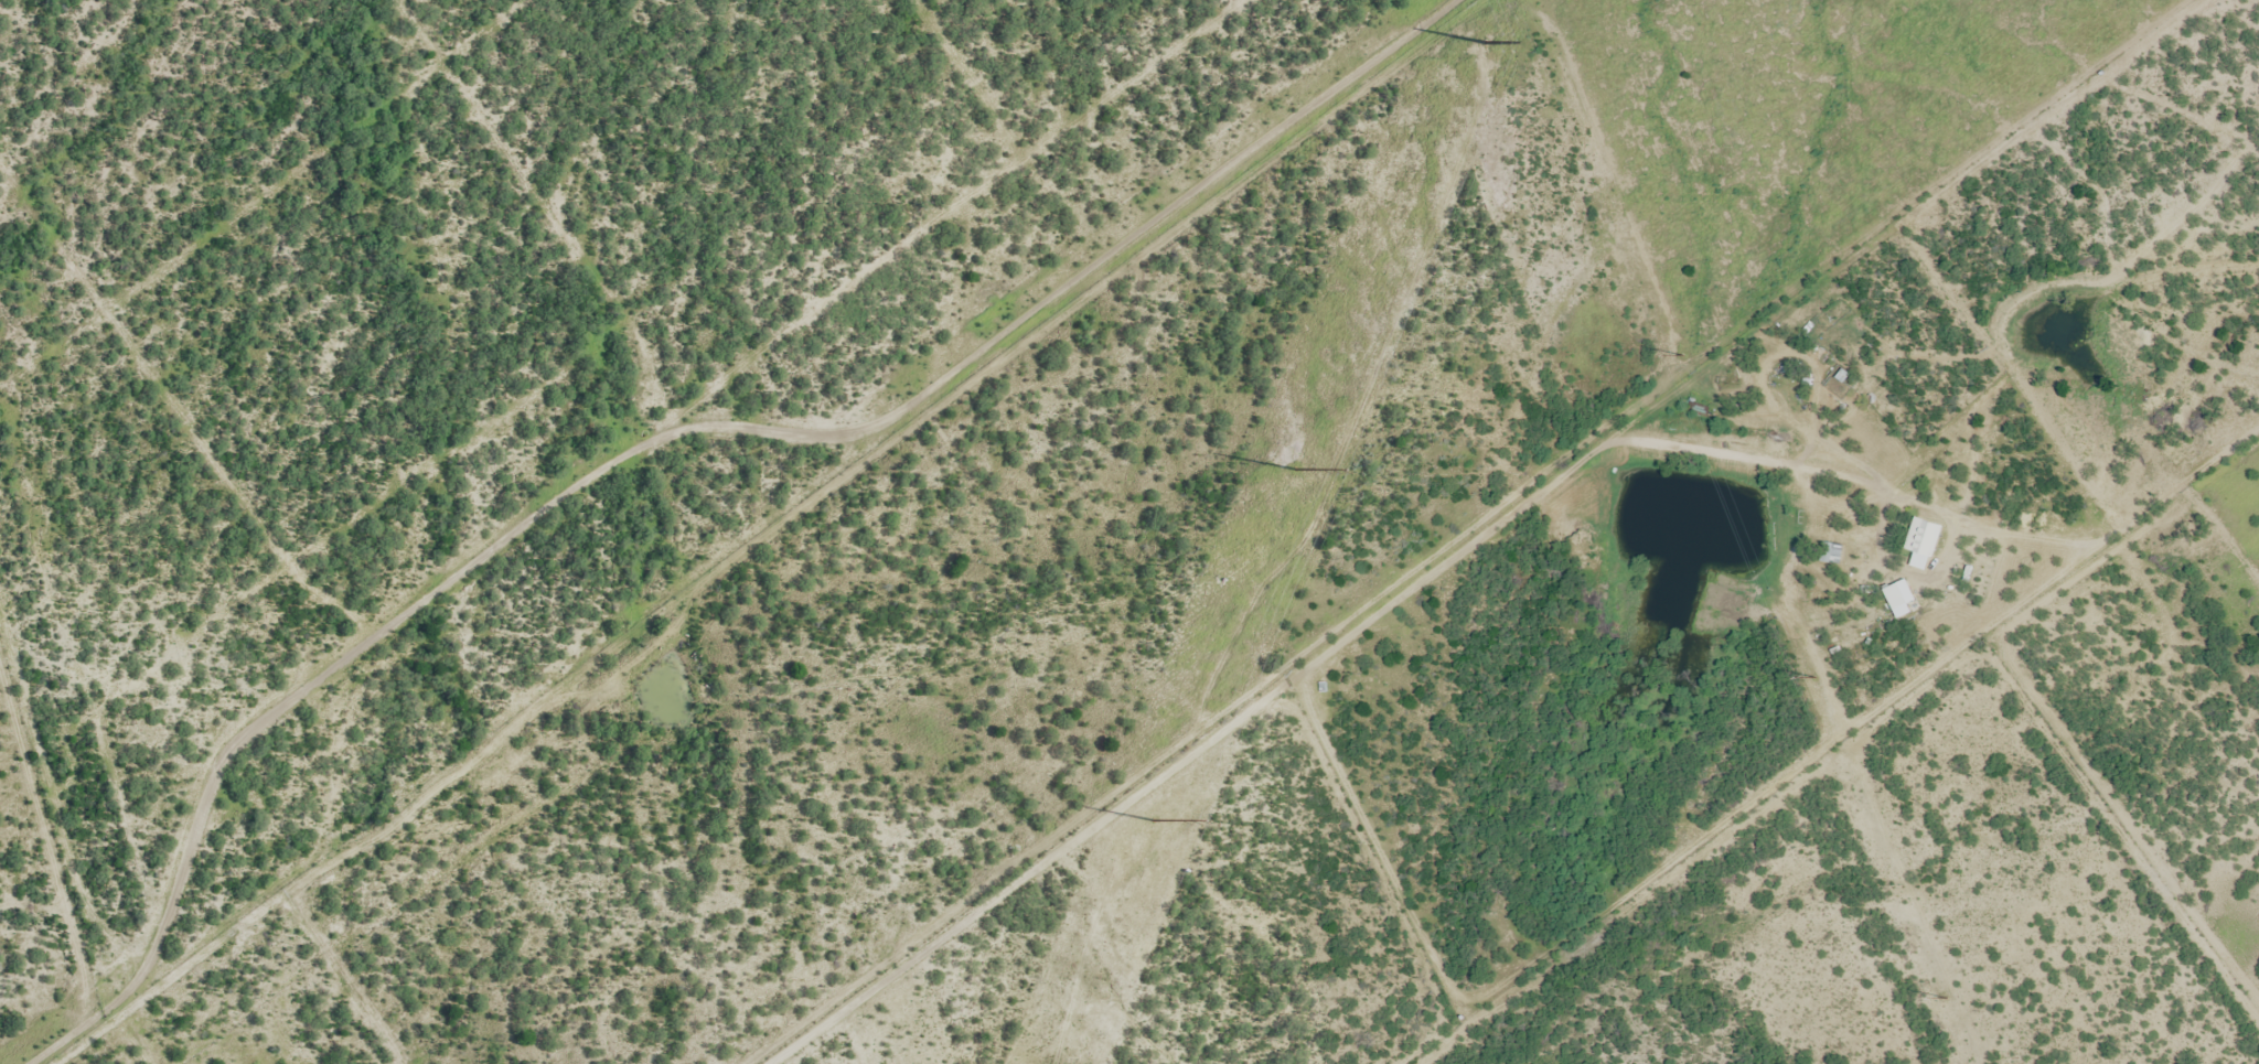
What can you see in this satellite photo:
power tower: (1482, 43)
power tower: (1683, 355)
power tower: (1295, 470)
building: (1924, 542)
road: (1421, 550)
building: (1833, 554)
building: (1902, 598)
power tower: (1814, 677)
power tower: (1153, 820)
power tower: (1946, 999)

